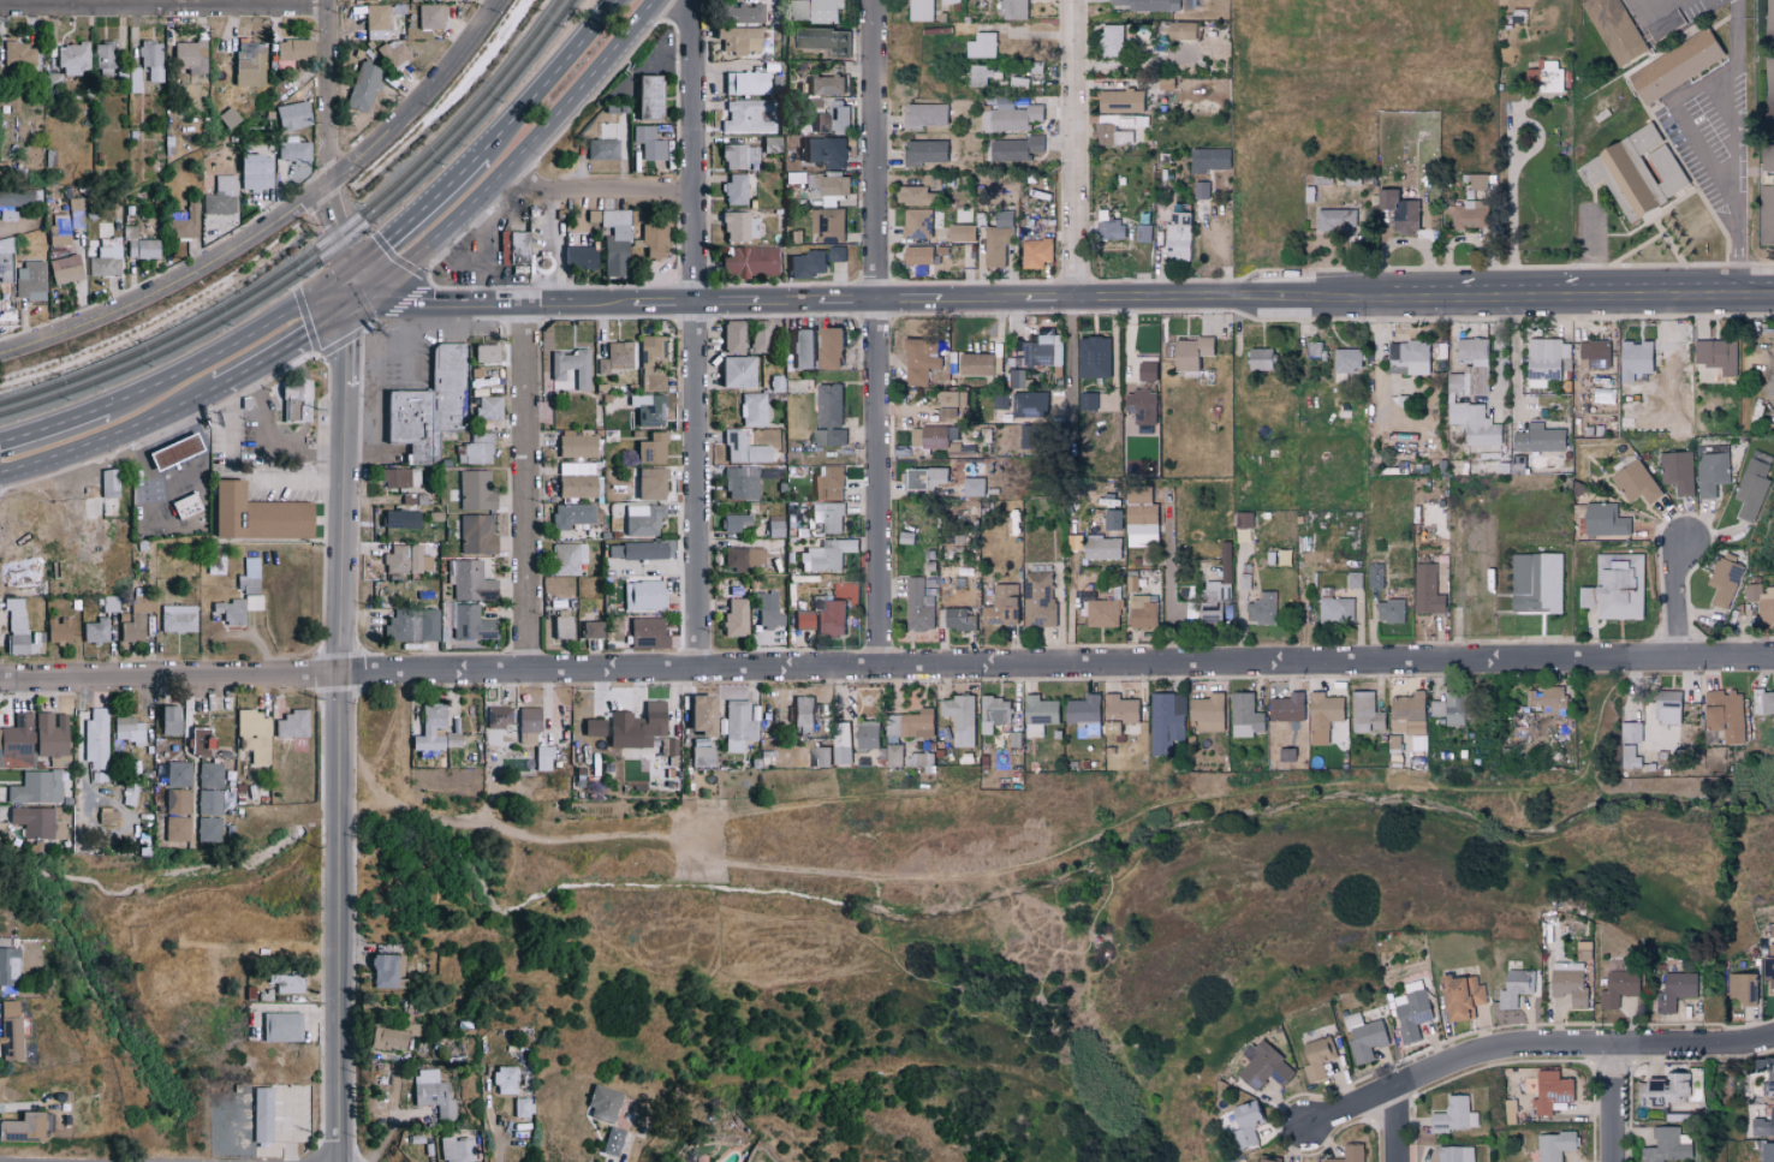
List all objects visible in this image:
building: (1148, 5)
road: (165, 8)
building: (921, 10)
building: (1012, 10)
building: (817, 11)
building: (736, 12)
building: (430, 16)
building: (377, 22)
building: (1772, 22)
building: (1180, 30)
building: (736, 38)
building: (822, 38)
road: (1738, 38)
building: (1111, 40)
building: (982, 44)
building: (290, 49)
building: (394, 53)
building: (17, 54)
building: (187, 55)
building: (71, 58)
building: (101, 58)
building: (245, 62)
building: (143, 65)
building: (1674, 66)
road: (654, 70)
building: (983, 75)
building: (1544, 77)
road: (550, 78)
building: (744, 82)
building: (825, 84)
building: (363, 87)
building: (1772, 89)
road: (328, 93)
road: (1728, 96)
road: (419, 97)
building: (1119, 101)
building: (654, 102)
building: (925, 114)
building: (226, 117)
building: (744, 117)
building: (1010, 117)
building: (832, 119)
building: (648, 142)
road: (1073, 147)
building: (1014, 148)
building: (292, 149)
building: (601, 149)
building: (831, 151)
building: (924, 151)
road: (516, 154)
building: (737, 155)
building: (1767, 157)
building: (1209, 159)
building: (252, 171)
building: (1635, 171)
building: (1477, 181)
building: (826, 186)
building: (733, 187)
road: (596, 192)
building: (912, 195)
building: (219, 196)
building: (1769, 201)
building: (1399, 210)
road: (418, 213)
building: (1470, 214)
building: (1333, 220)
building: (828, 224)
building: (917, 224)
building: (178, 225)
road: (334, 226)
building: (737, 226)
road: (12, 228)
building: (1109, 230)
building: (962, 232)
building: (1177, 236)
building: (614, 240)
building: (650, 240)
building: (996, 240)
road: (554, 245)
building: (510, 246)
building: (139, 248)
road: (490, 248)
railway: (312, 249)
road: (468, 251)
building: (523, 251)
building: (1036, 252)
building: (835, 255)
building: (917, 255)
railway: (321, 256)
building: (578, 256)
building: (4, 258)
building: (105, 261)
building: (748, 261)
building: (804, 262)
traffic signals: (351, 267)
building: (65, 268)
building: (32, 279)
road: (357, 280)
road: (171, 284)
traffic signals: (364, 293)
road: (981, 294)
road: (1050, 294)
road: (1669, 294)
road: (906, 296)
road: (1270, 296)
road: (786, 297)
road: (855, 297)
road: (1516, 297)
road: (671, 298)
road: (719, 298)
road: (505, 299)
road: (442, 327)
road: (880, 333)
road: (696, 334)
building: (732, 335)
road: (291, 341)
road: (233, 345)
building: (827, 347)
building: (799, 348)
building: (1472, 348)
road: (403, 351)
building: (1043, 351)
building: (483, 352)
building: (1189, 352)
road: (1115, 353)
road: (1496, 353)
building: (1595, 353)
building: (618, 354)
road: (1074, 354)
building: (1716, 354)
building: (492, 357)
building: (1093, 357)
building: (1409, 357)
building: (1548, 358)
building: (1258, 359)
building: (1347, 359)
building: (919, 360)
building: (1635, 360)
building: (650, 362)
building: (975, 364)
road: (407, 365)
building: (571, 367)
building: (601, 367)
building: (736, 371)
building: (1145, 371)
building: (1018, 379)
building: (1455, 382)
building: (951, 399)
building: (1087, 401)
building: (298, 405)
building: (1030, 405)
building: (435, 409)
building: (647, 409)
building: (750, 409)
building: (1141, 409)
building: (493, 412)
building: (947, 413)
building: (828, 416)
road: (53, 425)
road: (231, 425)
building: (1475, 425)
road: (111, 436)
building: (929, 437)
building: (1538, 439)
building: (576, 443)
building: (649, 448)
building: (743, 448)
building: (173, 449)
road: (263, 449)
building: (1678, 471)
building: (1712, 473)
building: (398, 477)
building: (925, 478)
building: (577, 479)
building: (828, 482)
building: (1636, 482)
road: (297, 483)
building: (648, 483)
building: (739, 483)
road: (528, 485)
building: (974, 487)
building: (475, 489)
building: (1751, 489)
road: (173, 490)
building: (106, 499)
building: (187, 510)
building: (252, 514)
building: (570, 514)
building: (399, 516)
building: (828, 516)
building: (1139, 516)
building: (641, 519)
building: (1605, 519)
building: (733, 522)
building: (475, 534)
building: (1101, 547)
building: (635, 550)
building: (827, 554)
building: (567, 558)
building: (742, 558)
building: (404, 559)
building: (1225, 564)
building: (12, 573)
building: (248, 574)
building: (1375, 576)
building: (1353, 579)
building: (1724, 579)
building: (468, 580)
road: (1169, 582)
building: (1536, 583)
building: (929, 586)
building: (1615, 588)
building: (1427, 590)
building: (643, 595)
building: (1037, 598)
road: (1678, 600)
building: (1209, 601)
building: (1761, 601)
building: (918, 606)
building: (1001, 607)
building: (233, 608)
building: (1262, 608)
building: (767, 609)
building: (1335, 609)
building: (1389, 610)
building: (1141, 612)
building: (1103, 613)
building: (733, 616)
building: (822, 616)
building: (175, 618)
building: (957, 619)
building: (469, 622)
building: (411, 624)
building: (131, 627)
building: (16, 628)
building: (56, 628)
building: (587, 628)
building: (94, 630)
building: (645, 633)
road: (887, 667)
building: (1546, 699)
building: (1767, 703)
building: (1666, 707)
building: (1286, 708)
building: (1449, 708)
building: (994, 713)
building: (1207, 713)
building: (802, 714)
building: (1038, 714)
building: (1365, 714)
building: (1409, 714)
building: (696, 715)
building: (1083, 715)
building: (1245, 715)
building: (1725, 715)
building: (496, 716)
building: (1322, 716)
building: (959, 719)
building: (167, 720)
building: (1166, 722)
building: (290, 723)
road: (343, 725)
building: (525, 725)
building: (736, 725)
building: (910, 725)
building: (633, 726)
building: (590, 727)
building: (126, 729)
building: (431, 729)
building: (1630, 733)
building: (49, 734)
building: (251, 734)
building: (867, 734)
building: (95, 738)
building: (16, 741)
building: (200, 741)
building: (841, 743)
building: (894, 755)
building: (700, 756)
building: (820, 757)
building: (1629, 757)
building: (542, 758)
building: (175, 773)
building: (208, 774)
building: (35, 787)
building: (175, 800)
building: (208, 802)
building: (35, 822)
building: (173, 829)
building: (207, 830)
building: (7, 966)
building: (1769, 969)
building: (383, 970)
building: (1568, 982)
building: (282, 983)
building: (1514, 988)
building: (1618, 988)
building: (1742, 989)
building: (1675, 990)
building: (1460, 997)
building: (7, 1008)
building: (1412, 1011)
building: (279, 1026)
building: (1364, 1037)
building: (385, 1038)
building: (10, 1039)
road: (1535, 1049)
building: (1318, 1057)
building: (1266, 1067)
building: (502, 1079)
building: (1769, 1080)
building: (1666, 1089)
building: (1550, 1091)
building: (431, 1094)
building: (600, 1103)
road: (1615, 1106)
building: (520, 1107)
building: (260, 1114)
building: (1455, 1115)
building: (1246, 1124)
building: (1764, 1125)
building: (20, 1127)
road: (1394, 1128)
building: (609, 1142)
road: (498, 1145)
building: (1554, 1146)
building: (1666, 1146)
building: (454, 1149)
road: (627, 1149)
building: (1768, 1152)
building: (1350, 1154)
building: (1455, 1154)
building: (1270, 1161)

